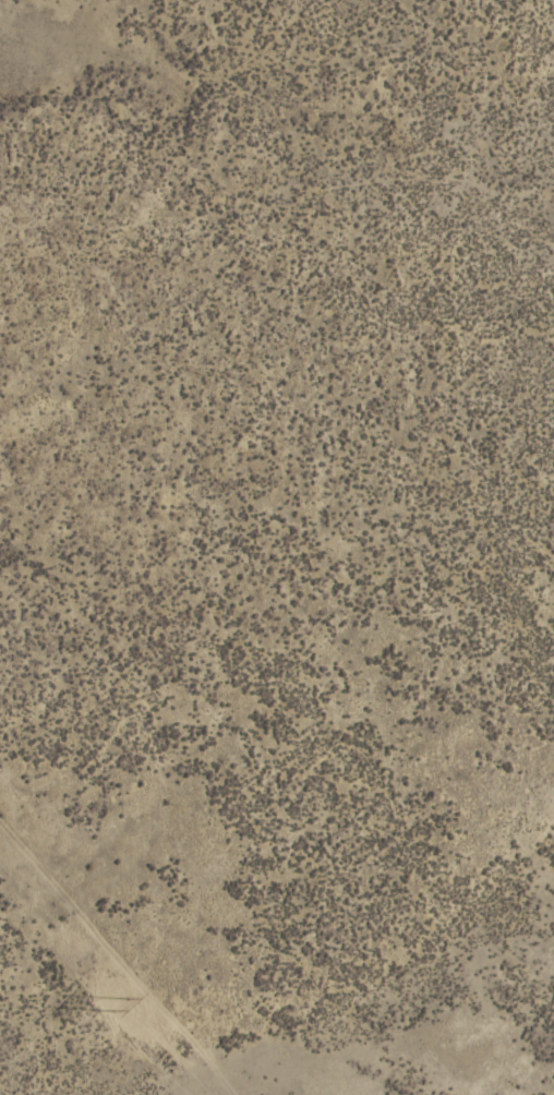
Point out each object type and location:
power tower: (110, 996)

